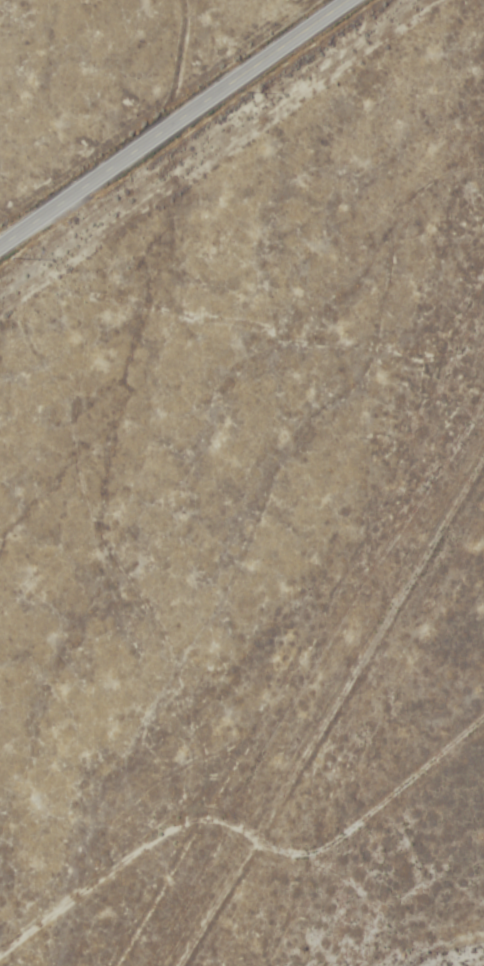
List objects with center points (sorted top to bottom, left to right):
road: (177, 121)
road: (242, 835)

